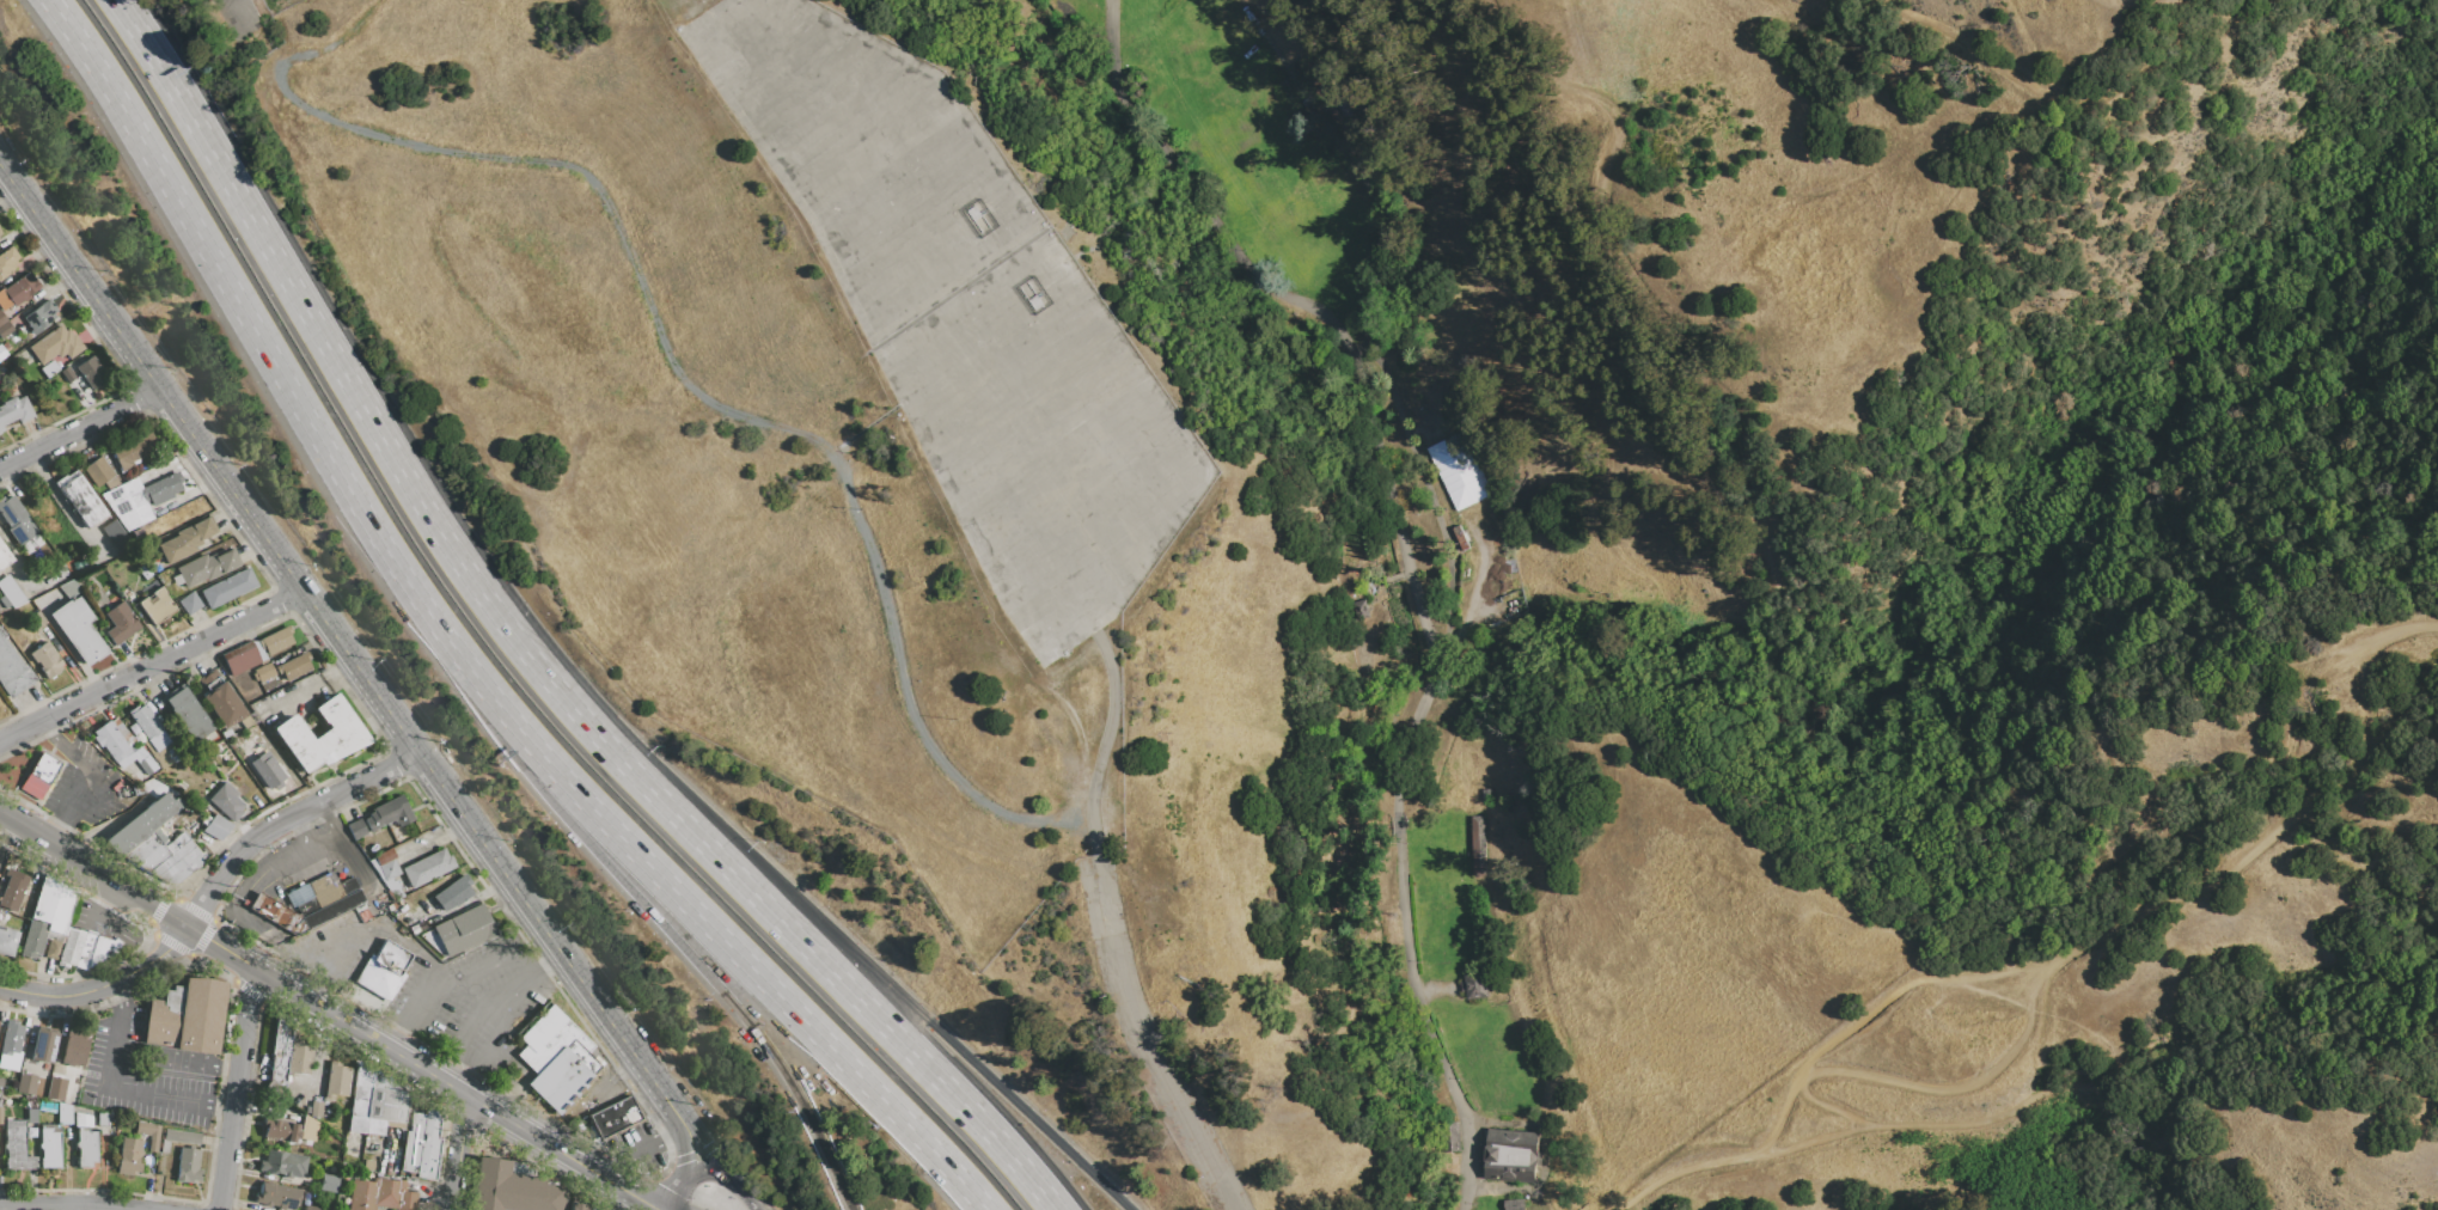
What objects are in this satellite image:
road: (226, 2)
road: (228, 2)
road: (232, 2)
road: (236, 10)
road: (2046, 85)
road: (1361, 179)
road: (1593, 213)
building: (0, 231)
building: (0, 238)
building: (7, 261)
building: (20, 288)
building: (4, 300)
building: (39, 316)
building: (2, 318)
building: (5, 329)
road: (2290, 330)
road: (255, 335)
building: (55, 344)
building: (2, 352)
building: (48, 368)
building: (91, 373)
building: (67, 374)
road: (346, 379)
building: (13, 410)
road: (79, 428)
building: (133, 451)
building: (1459, 471)
building: (100, 473)
building: (148, 477)
building: (161, 488)
building: (79, 499)
building: (128, 505)
building: (16, 520)
building: (117, 537)
building: (184, 540)
building: (4, 557)
road: (1405, 567)
building: (203, 568)
building: (61, 570)
building: (68, 588)
building: (227, 588)
road: (550, 589)
building: (11, 591)
building: (4, 601)
building: (189, 603)
building: (157, 607)
building: (120, 623)
building: (77, 630)
road: (334, 634)
building: (275, 641)
building: (257, 650)
building: (45, 659)
building: (242, 661)
building: (295, 665)
road: (151, 666)
building: (12, 672)
building: (264, 672)
building: (220, 699)
building: (184, 711)
road: (494, 713)
building: (249, 720)
building: (148, 726)
building: (320, 735)
building: (111, 742)
road: (1104, 745)
building: (267, 769)
building: (39, 776)
road: (84, 778)
building: (226, 802)
building: (387, 813)
road: (283, 819)
building: (141, 823)
road: (23, 826)
building: (216, 827)
building: (355, 829)
building: (1477, 847)
building: (165, 856)
building: (384, 856)
road: (74, 858)
building: (427, 867)
building: (389, 869)
building: (13, 885)
building: (348, 885)
building: (324, 888)
building: (453, 892)
building: (28, 893)
building: (298, 896)
road: (143, 902)
building: (53, 909)
building: (331, 909)
road: (91, 910)
road: (274, 913)
building: (276, 913)
building: (463, 929)
building: (32, 939)
building: (7, 941)
road: (723, 941)
building: (74, 948)
building: (51, 949)
road: (318, 951)
building: (391, 957)
road: (551, 966)
road: (872, 967)
road: (460, 972)
road: (705, 972)
road: (831, 973)
building: (378, 978)
road: (2055, 979)
road: (100, 983)
road: (1926, 984)
building: (1474, 985)
building: (366, 1000)
road: (483, 1007)
building: (187, 1016)
building: (281, 1037)
road: (497, 1037)
building: (11, 1038)
road: (397, 1039)
building: (42, 1046)
building: (74, 1047)
road: (173, 1056)
building: (299, 1057)
building: (555, 1058)
road: (422, 1067)
road: (442, 1067)
building: (277, 1071)
building: (44, 1074)
building: (336, 1080)
building: (25, 1083)
road: (116, 1084)
road: (477, 1086)
road: (233, 1088)
building: (55, 1089)
building: (361, 1090)
building: (386, 1100)
building: (314, 1110)
building: (63, 1114)
building: (31, 1116)
building: (613, 1117)
building: (102, 1118)
building: (356, 1124)
building: (380, 1125)
building: (306, 1129)
building: (280, 1130)
building: (148, 1133)
building: (177, 1138)
building: (85, 1141)
building: (421, 1144)
building: (16, 1145)
building: (48, 1147)
road: (684, 1147)
road: (457, 1150)
road: (715, 1154)
building: (128, 1155)
building: (1511, 1155)
building: (188, 1165)
building: (282, 1165)
building: (367, 1165)
road: (705, 1172)
building: (328, 1182)
building: (512, 1187)
building: (279, 1194)
building: (380, 1194)
road: (668, 1202)
road: (66, 1206)
building: (574, 1206)
building: (311, 1208)

